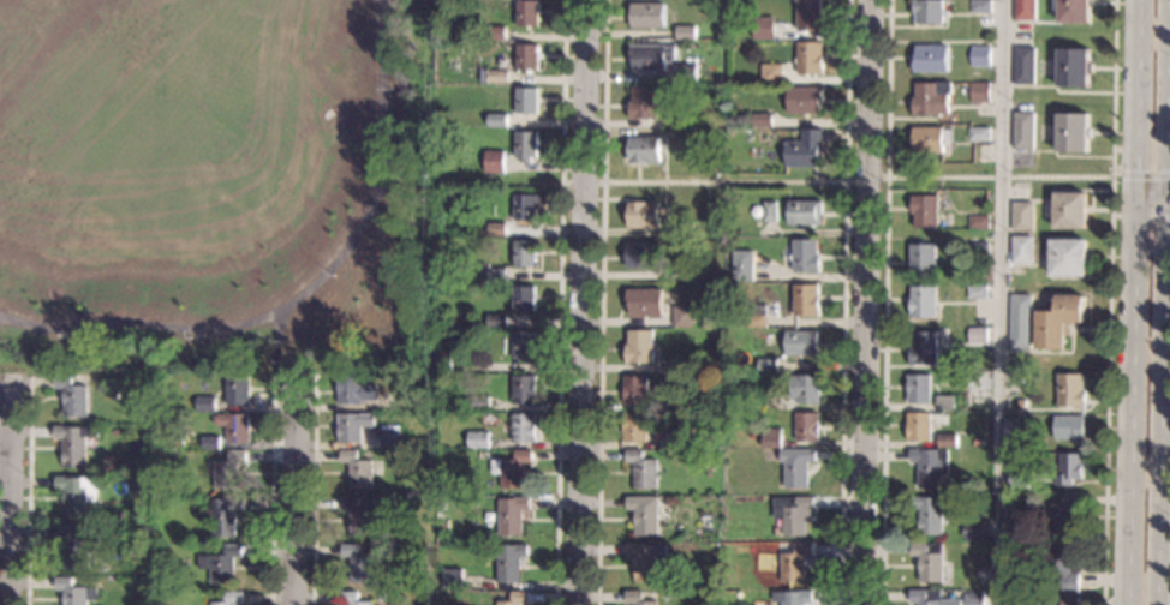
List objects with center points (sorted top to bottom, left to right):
building: (980, 6)
building: (1025, 10)
building: (1073, 11)
building: (929, 12)
building: (527, 14)
building: (645, 16)
building: (808, 16)
building: (763, 28)
building: (684, 32)
building: (495, 34)
building: (980, 56)
building: (526, 58)
building: (650, 58)
building: (808, 59)
building: (931, 59)
building: (1025, 66)
building: (1071, 68)
building: (686, 73)
building: (770, 74)
building: (497, 77)
road: (1114, 86)
road: (889, 89)
road: (561, 91)
building: (980, 92)
building: (663, 95)
building: (932, 98)
building: (525, 101)
building: (804, 101)
building: (641, 102)
building: (496, 120)
building: (671, 120)
building: (762, 120)
building: (1023, 131)
building: (1071, 133)
building: (979, 134)
building: (688, 137)
building: (930, 140)
building: (524, 146)
building: (643, 150)
building: (804, 150)
building: (494, 163)
road: (1141, 174)
road: (858, 180)
road: (581, 181)
road: (468, 182)
park: (217, 188)
road: (1150, 200)
building: (525, 206)
building: (981, 206)
building: (1069, 210)
building: (769, 211)
building: (926, 211)
building: (804, 214)
building: (644, 215)
road: (1140, 215)
building: (1022, 216)
building: (979, 222)
building: (491, 229)
building: (682, 229)
building: (1021, 250)
building: (978, 251)
building: (524, 253)
building: (641, 256)
building: (805, 256)
building: (1067, 258)
building: (924, 259)
building: (741, 266)
building: (490, 274)
building: (682, 274)
road: (302, 287)
building: (977, 293)
building: (523, 299)
building: (805, 300)
building: (924, 301)
road: (998, 301)
road: (1128, 301)
road: (1159, 301)
road: (579, 302)
road: (602, 302)
building: (644, 302)
road: (844, 302)
road: (864, 302)
building: (754, 316)
building: (684, 317)
building: (495, 321)
building: (1020, 322)
building: (1057, 322)
building: (977, 335)
road: (276, 340)
building: (801, 343)
building: (523, 346)
building: (638, 347)
building: (924, 348)
building: (440, 361)
building: (766, 365)
building: (682, 366)
road: (29, 384)
building: (805, 389)
building: (919, 389)
road: (1106, 389)
building: (354, 390)
building: (521, 390)
building: (634, 390)
building: (237, 391)
road: (884, 391)
building: (1069, 391)
road: (557, 394)
building: (71, 396)
building: (760, 400)
building: (684, 401)
building: (945, 401)
building: (418, 402)
building: (204, 403)
building: (476, 403)
building: (1020, 405)
building: (352, 426)
building: (235, 427)
building: (634, 427)
building: (806, 427)
building: (919, 427)
building: (1067, 427)
building: (521, 429)
building: (144, 432)
building: (390, 437)
building: (682, 437)
building: (770, 438)
building: (477, 441)
building: (948, 441)
building: (209, 443)
building: (978, 443)
building: (73, 444)
building: (930, 466)
building: (795, 467)
building: (1065, 468)
building: (640, 469)
building: (227, 471)
building: (357, 471)
building: (513, 471)
building: (1017, 479)
road: (271, 486)
building: (949, 487)
road: (28, 492)
road: (312, 492)
road: (6, 495)
building: (76, 495)
road: (293, 501)
building: (793, 514)
building: (930, 514)
building: (1061, 514)
building: (644, 515)
building: (222, 516)
building: (359, 516)
building: (511, 517)
building: (441, 525)
building: (972, 531)
building: (775, 532)
building: (190, 540)
building: (77, 545)
building: (189, 549)
building: (647, 561)
building: (929, 561)
building: (508, 563)
building: (793, 563)
building: (220, 564)
building: (358, 564)
building: (1061, 568)
building: (101, 570)
building: (450, 580)
building: (74, 592)
building: (381, 597)
building: (490, 597)
building: (925, 597)
building: (792, 598)
building: (229, 599)
building: (350, 599)
building: (514, 599)
building: (637, 599)
building: (1068, 600)
building: (972, 603)

